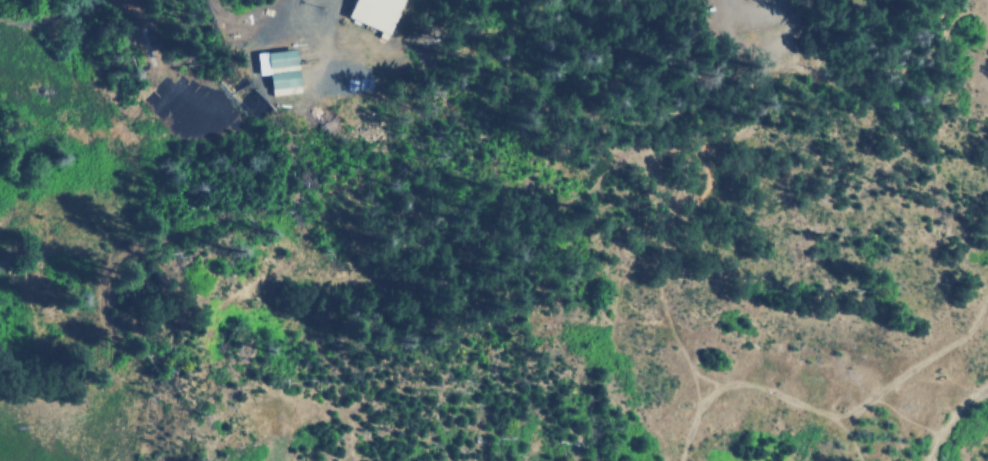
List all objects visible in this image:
building: (372, 13)
road: (979, 14)
building: (274, 70)
road: (734, 133)
road: (688, 388)
road: (828, 413)
road: (946, 415)
road: (839, 435)

